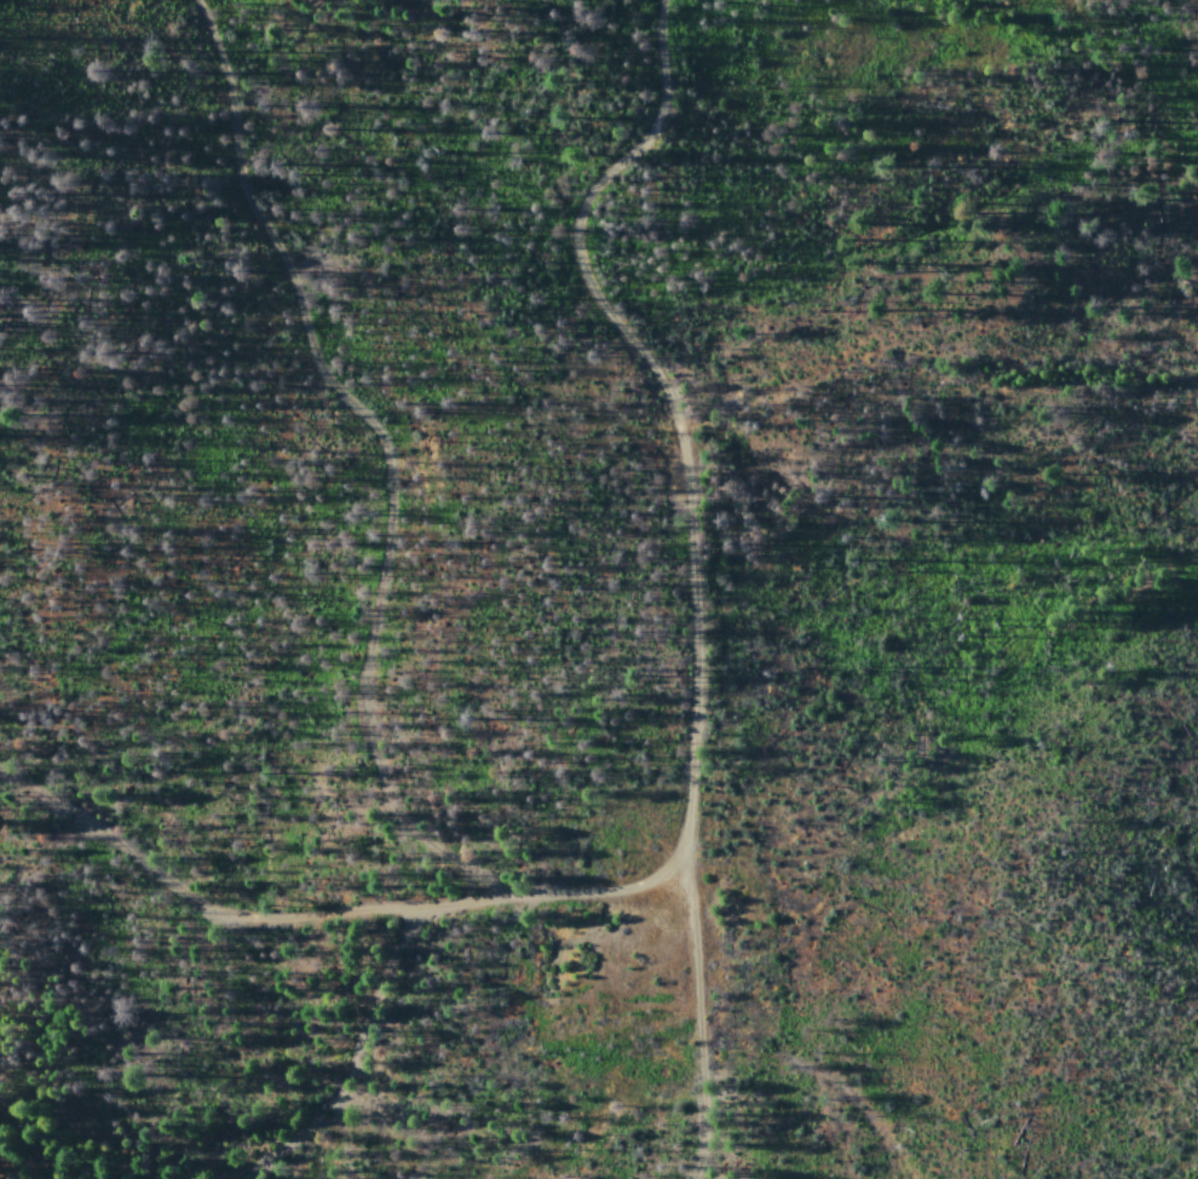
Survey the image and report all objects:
road: (687, 557)
road: (330, 902)

